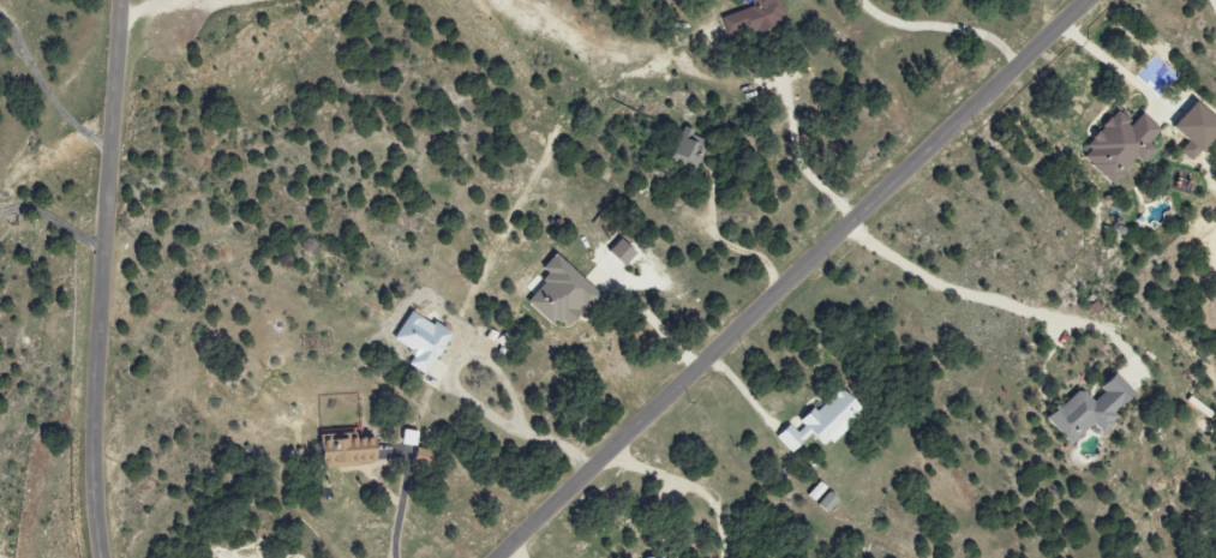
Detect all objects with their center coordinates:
road: (134, 10)
building: (751, 17)
road: (941, 26)
road: (14, 34)
road: (10, 50)
road: (1100, 55)
road: (56, 108)
building: (1190, 130)
building: (1116, 145)
building: (687, 149)
road: (797, 160)
road: (54, 216)
road: (100, 278)
road: (790, 278)
building: (557, 293)
road: (987, 301)
road: (649, 318)
building: (418, 340)
building: (1085, 409)
building: (819, 422)
road: (509, 430)
building: (340, 451)
building: (815, 492)
building: (825, 502)
road: (399, 503)
road: (507, 554)

